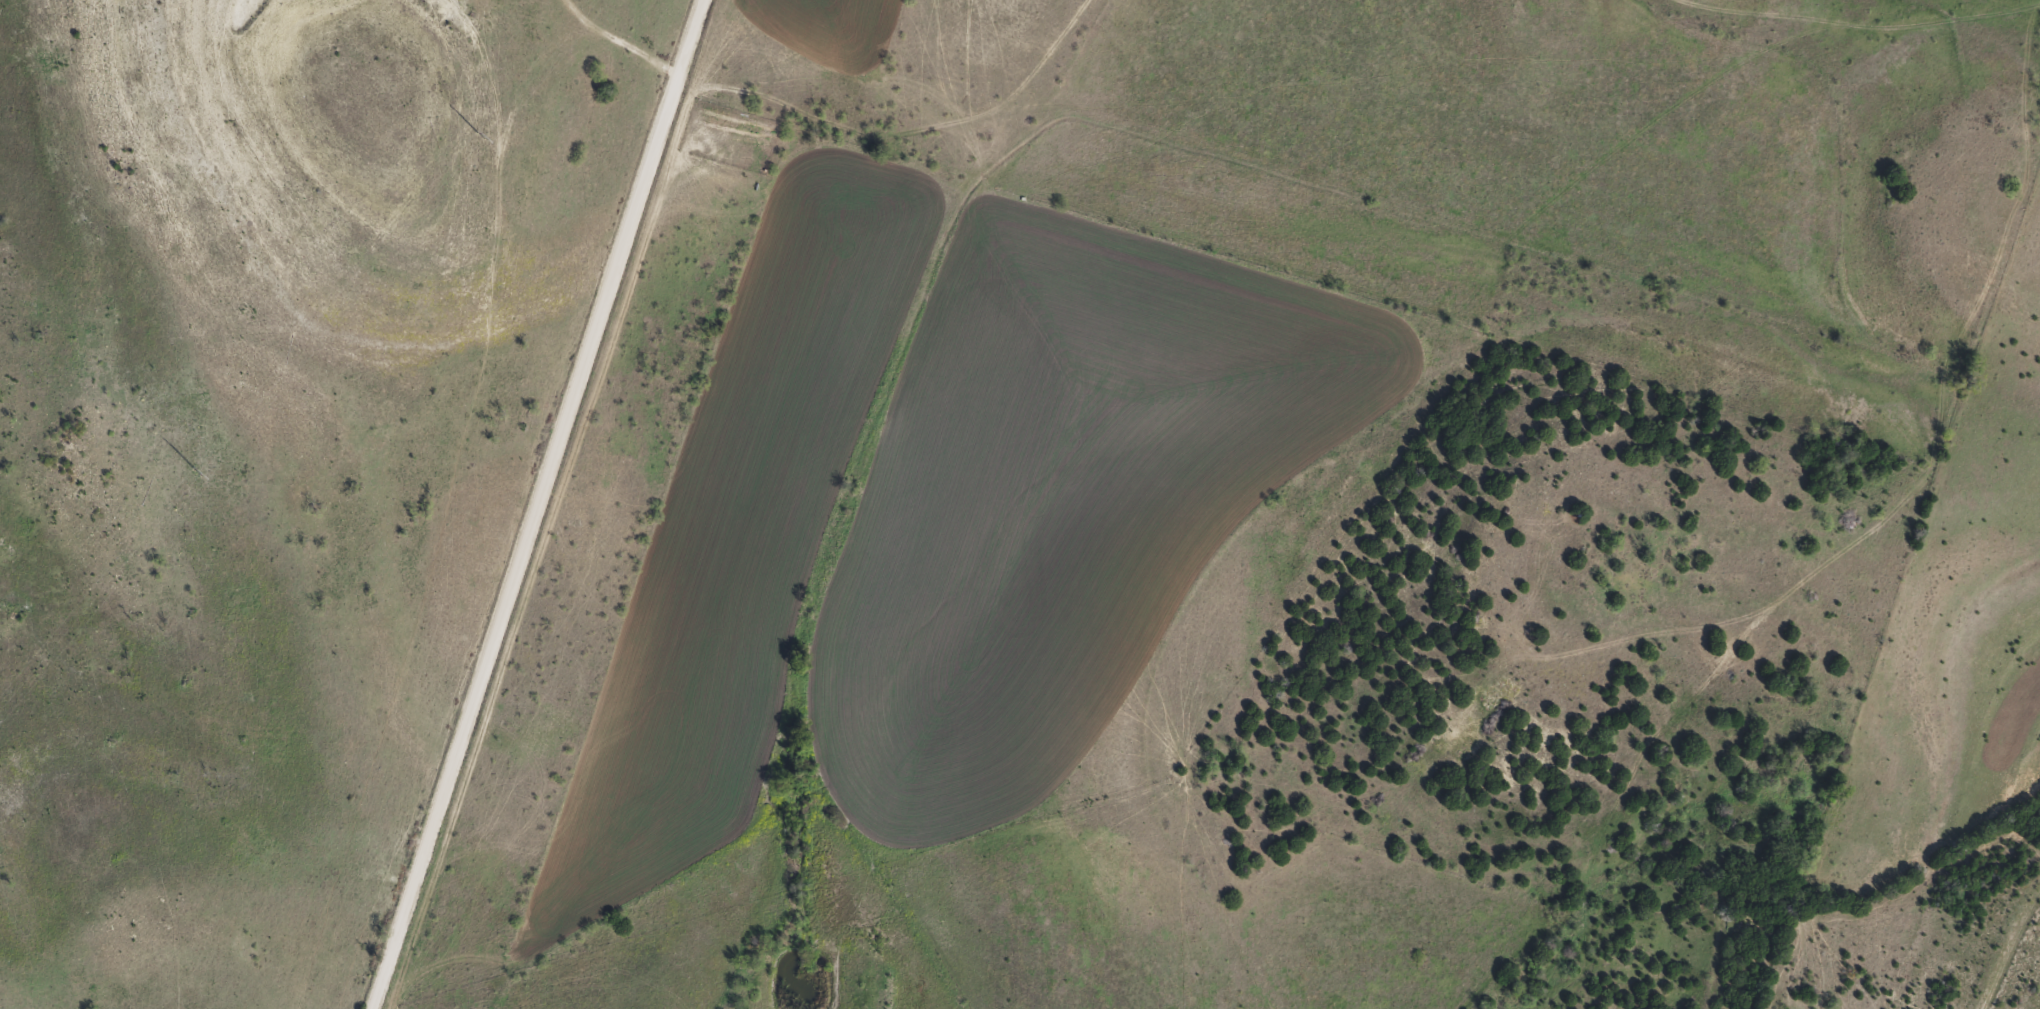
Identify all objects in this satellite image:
power tower: (480, 134)
power tower: (198, 471)
road: (533, 504)

